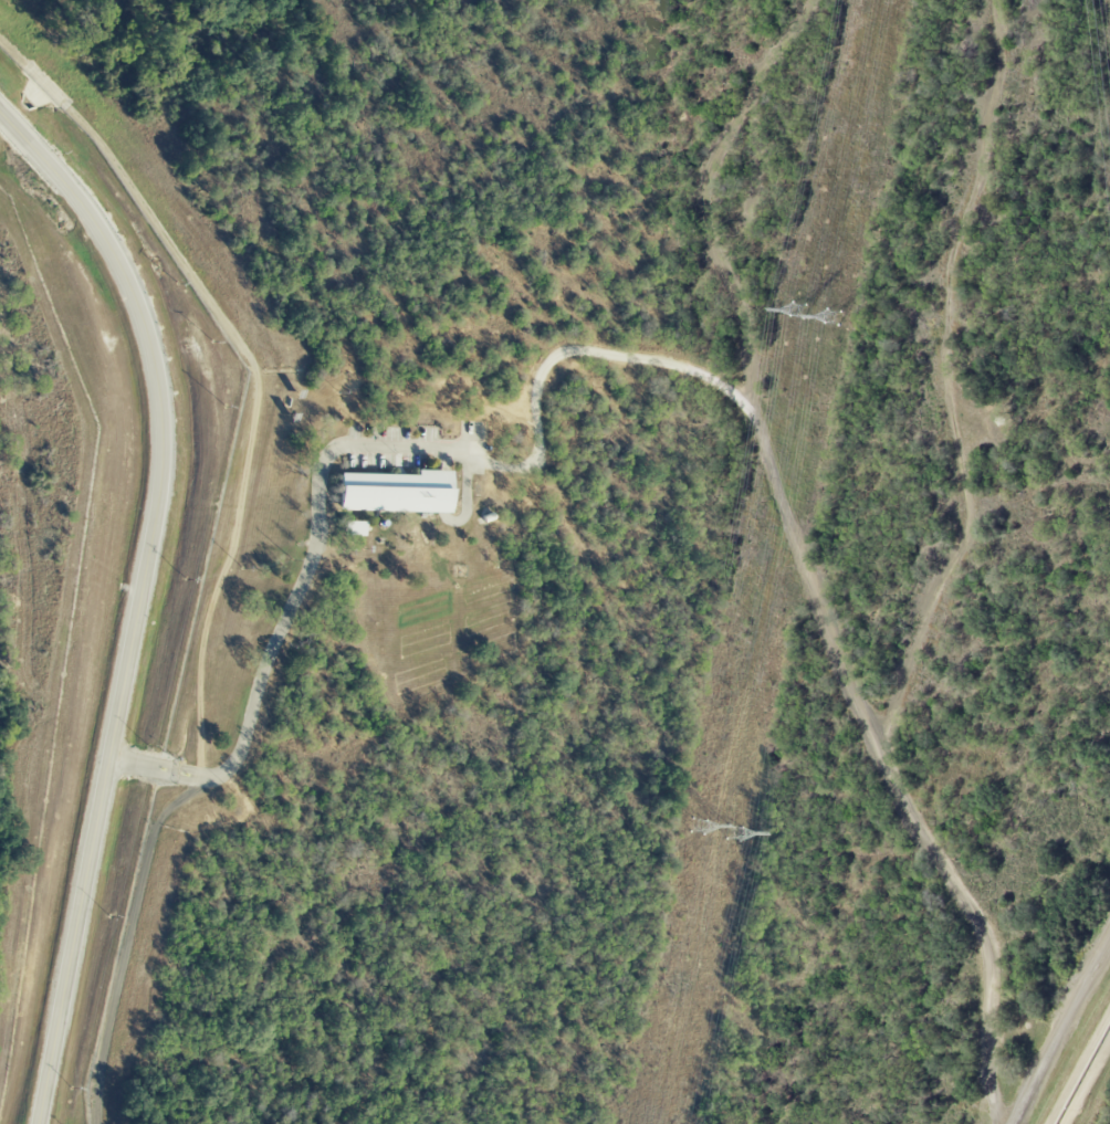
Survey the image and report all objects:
road: (708, 198)
power tower: (792, 306)
power tower: (832, 314)
road: (443, 459)
building: (396, 492)
road: (442, 492)
building: (352, 528)
road: (217, 550)
road: (308, 561)
road: (811, 581)
road: (138, 599)
power tower: (698, 829)
power tower: (739, 837)
road: (1062, 1033)

